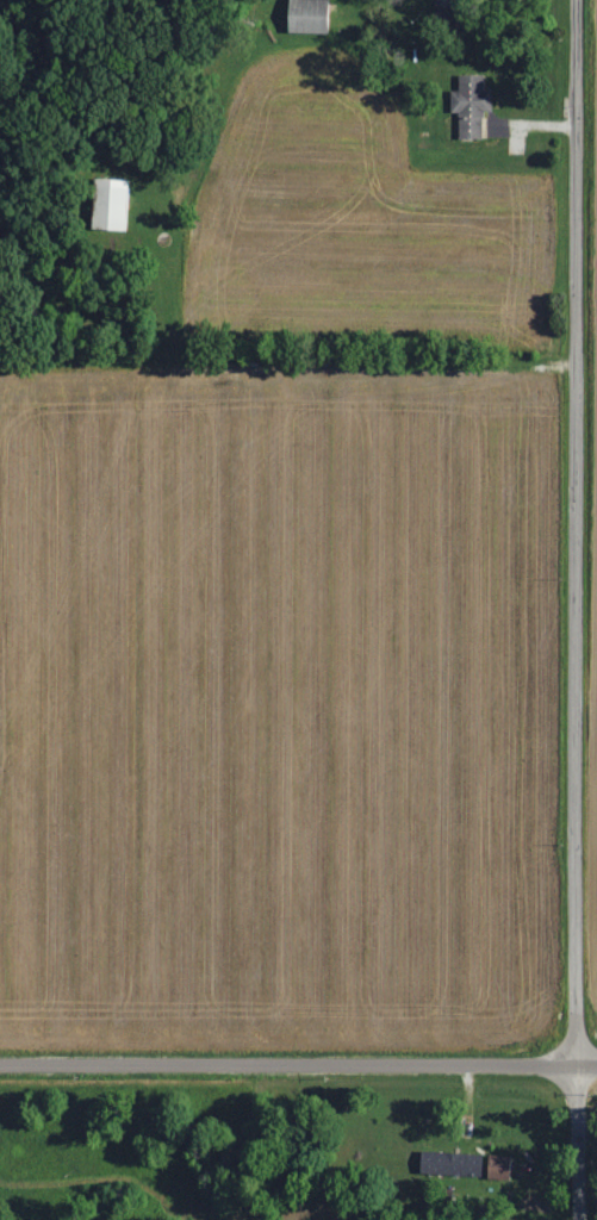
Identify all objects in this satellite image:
building: (450, 14)
building: (312, 15)
building: (473, 105)
building: (110, 203)
road: (574, 609)
road: (298, 1062)
building: (456, 1163)
building: (502, 1165)

